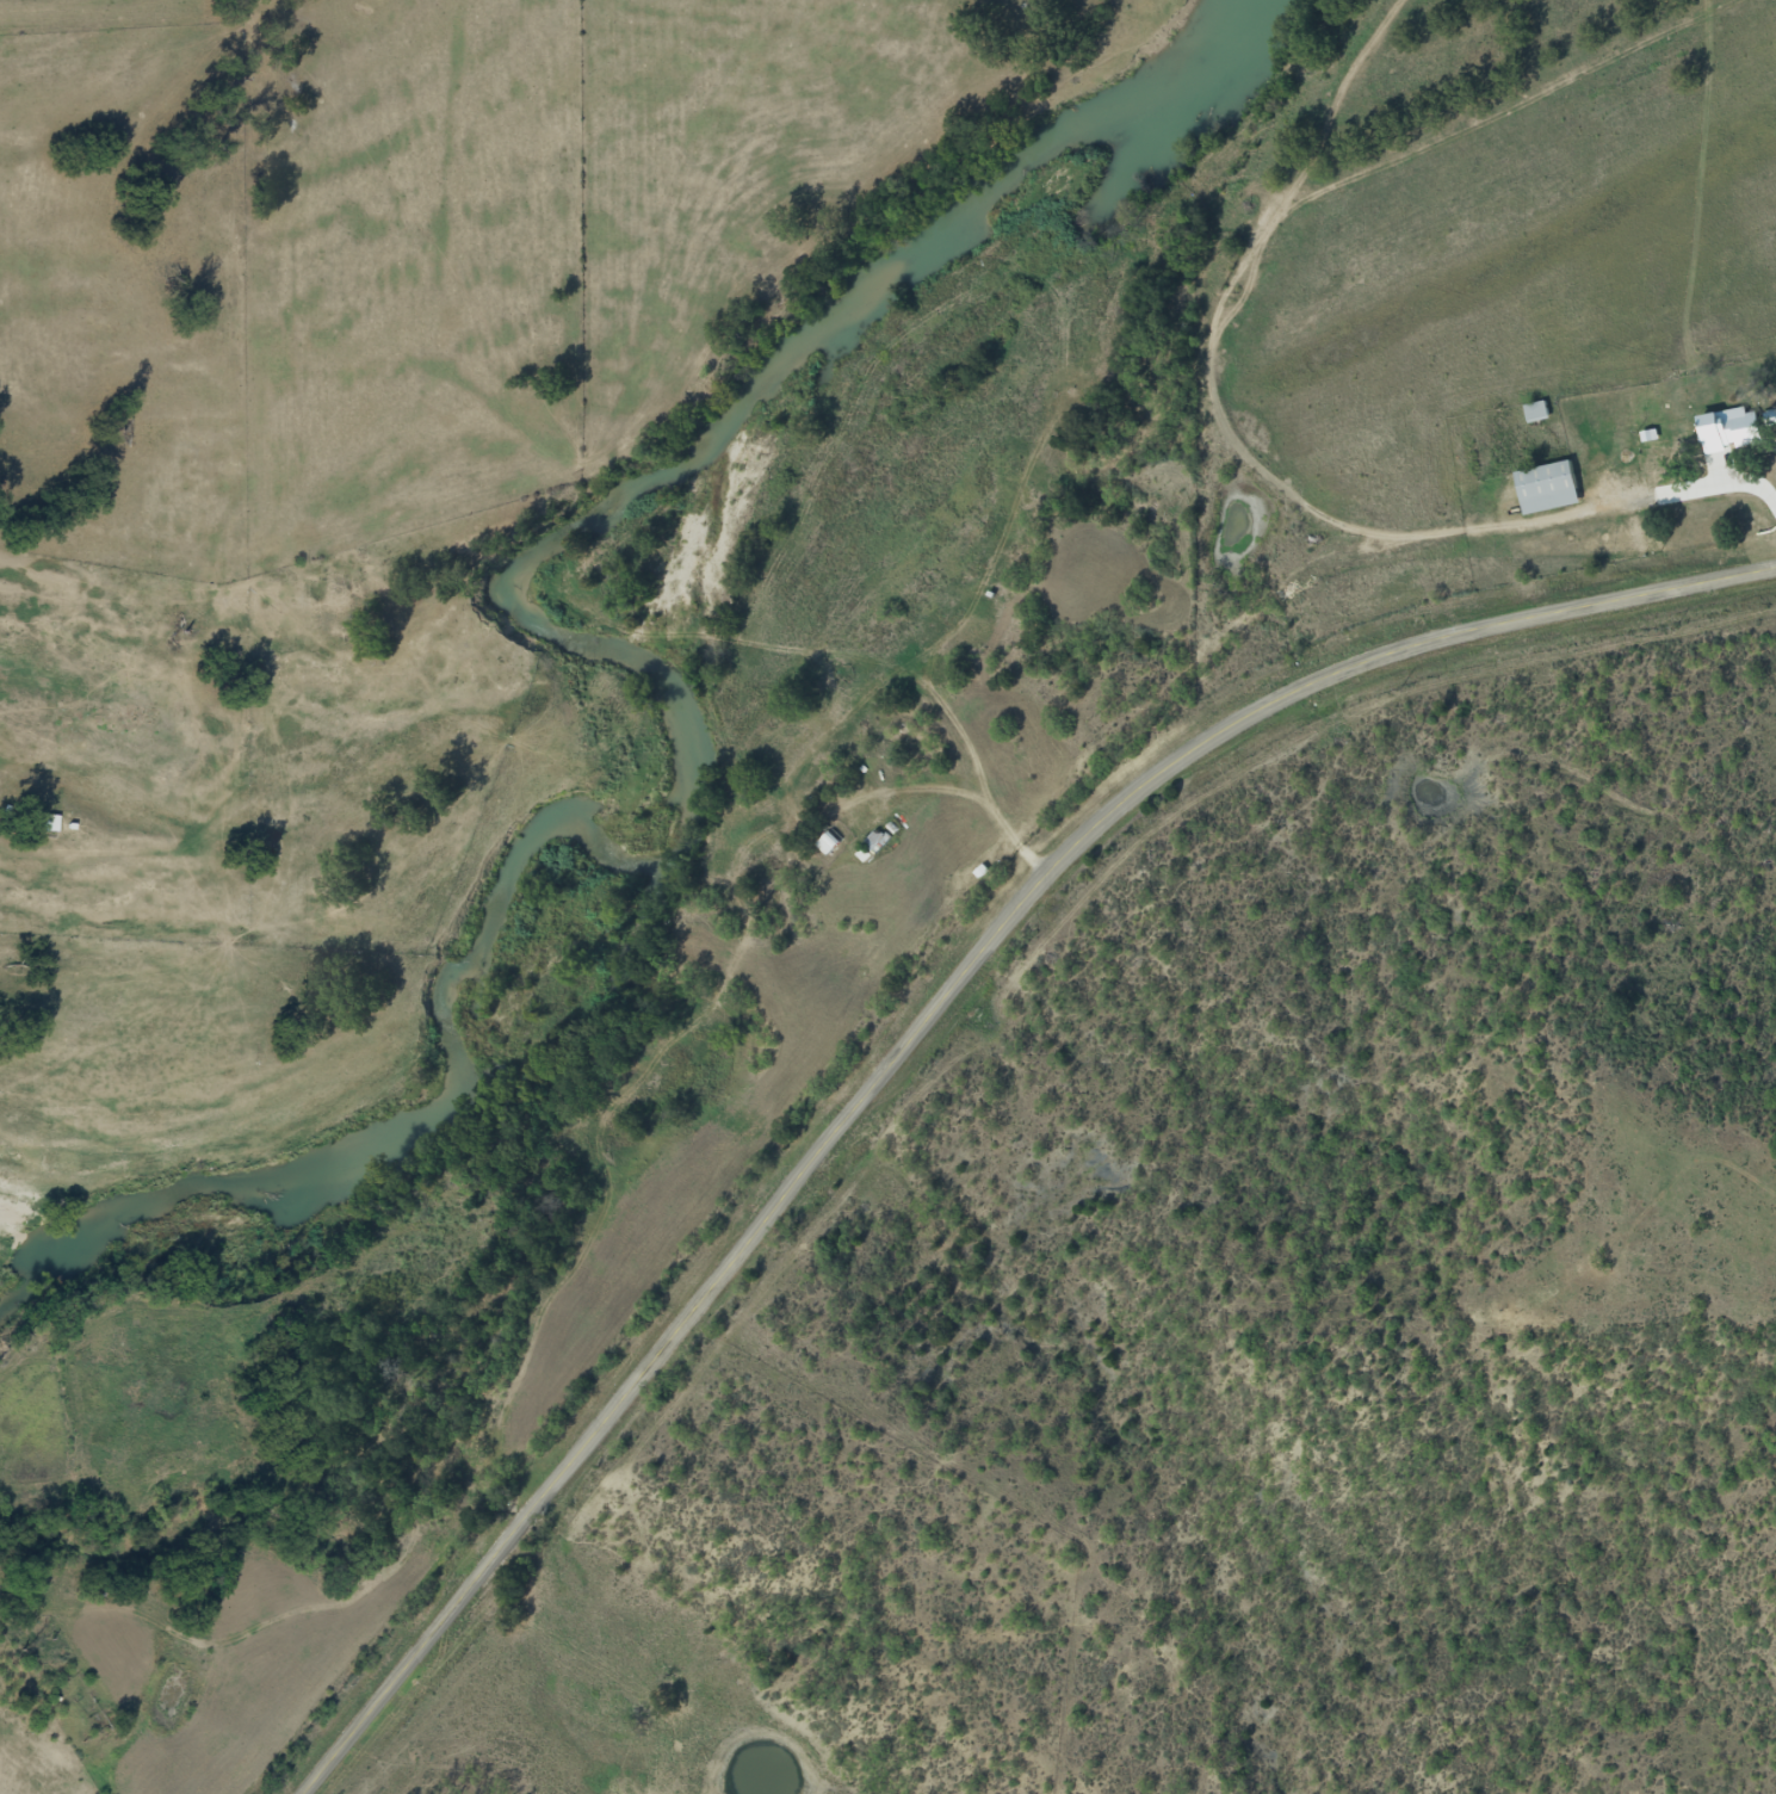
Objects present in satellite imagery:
river: (1162, 91)
building: (1529, 413)
building: (1721, 429)
road: (1258, 488)
building: (1539, 488)
river: (687, 799)
building: (43, 823)
building: (821, 843)
building: (866, 846)
road: (926, 1017)

